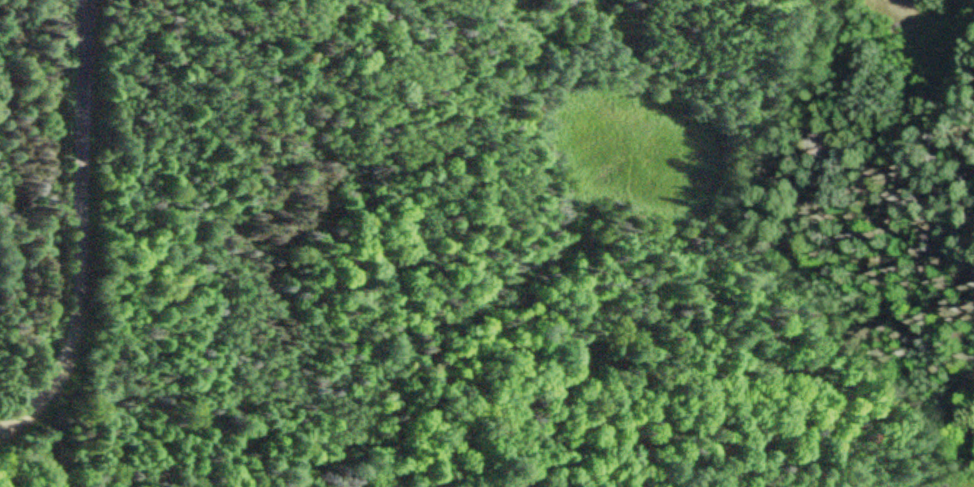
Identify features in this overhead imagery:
road: (79, 232)

